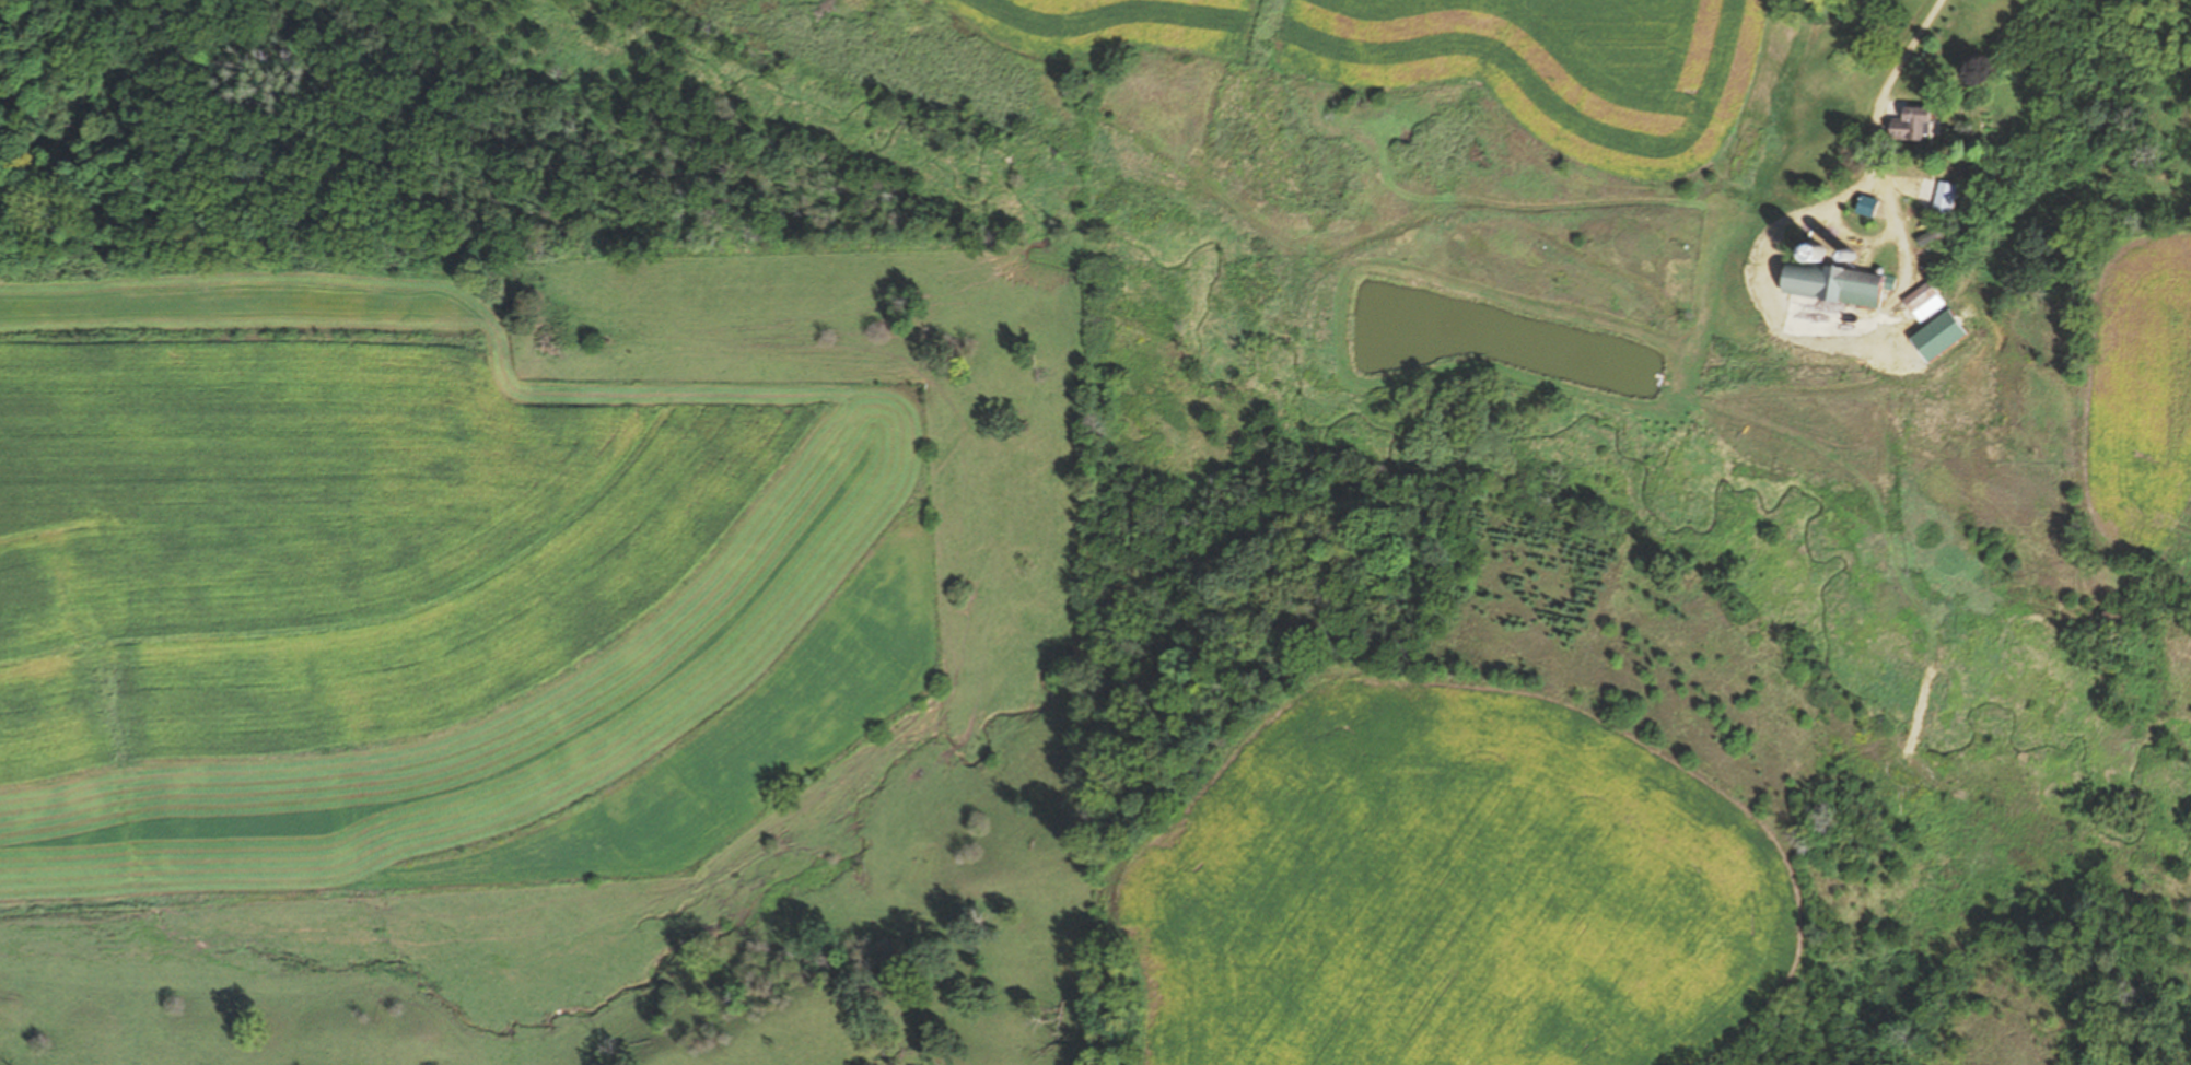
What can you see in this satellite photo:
building: (1910, 125)
building: (1944, 198)
building: (1830, 281)
building: (1925, 300)
building: (2111, 615)

